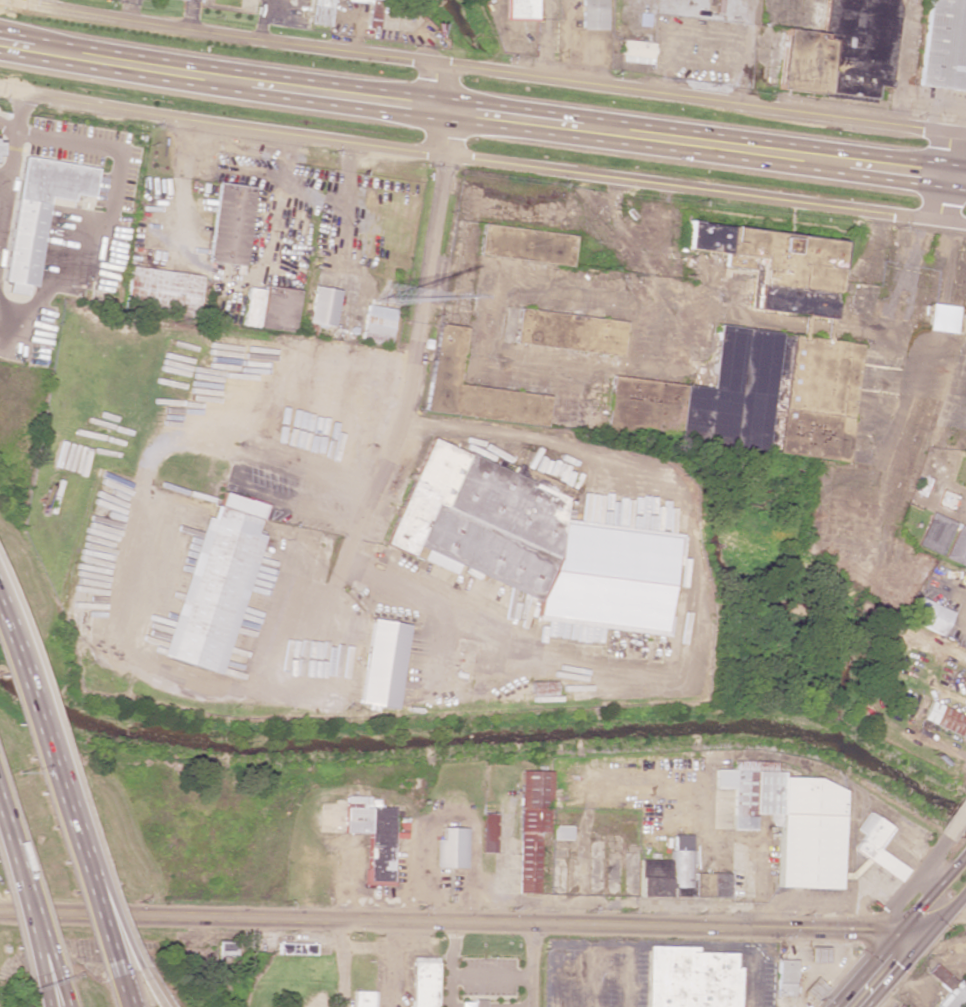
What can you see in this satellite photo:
building: (198, 0)
building: (368, 0)
building: (521, 9)
building: (318, 12)
building: (593, 14)
river: (459, 26)
road: (15, 44)
building: (944, 45)
building: (841, 48)
building: (636, 51)
road: (139, 65)
road: (489, 69)
road: (344, 94)
road: (510, 117)
road: (715, 144)
road: (482, 159)
road: (898, 163)
road: (956, 166)
road: (896, 175)
road: (944, 177)
road: (954, 190)
building: (37, 213)
building: (230, 224)
building: (525, 244)
building: (776, 266)
river: (600, 286)
building: (161, 290)
road: (611, 298)
building: (322, 306)
building: (269, 308)
building: (940, 318)
building: (377, 325)
building: (963, 325)
building: (567, 332)
road: (411, 378)
building: (473, 387)
building: (747, 395)
building: (519, 473)
road: (948, 500)
building: (943, 539)
building: (532, 545)
building: (213, 584)
building: (927, 615)
river: (781, 635)
building: (381, 664)
building: (944, 719)
river: (489, 736)
road: (59, 799)
road: (583, 815)
building: (789, 822)
road: (955, 823)
building: (530, 826)
building: (487, 832)
building: (559, 832)
building: (373, 835)
building: (874, 846)
building: (449, 848)
building: (678, 875)
road: (910, 883)
road: (21, 895)
road: (112, 921)
road: (454, 925)
road: (905, 940)
road: (649, 946)
building: (295, 948)
building: (815, 953)
road: (341, 965)
road: (447, 965)
road: (535, 966)
parking lot: (594, 973)
road: (491, 975)
building: (486, 976)
parking lot: (486, 976)
road: (589, 976)
road: (627, 976)
parking lot: (754, 976)
building: (783, 977)
building: (689, 978)
building: (423, 982)
road: (45, 984)
road: (50, 984)
road: (152, 987)
building: (945, 987)
building: (810, 988)
road: (123, 991)
building: (363, 999)
building: (476, 1003)

